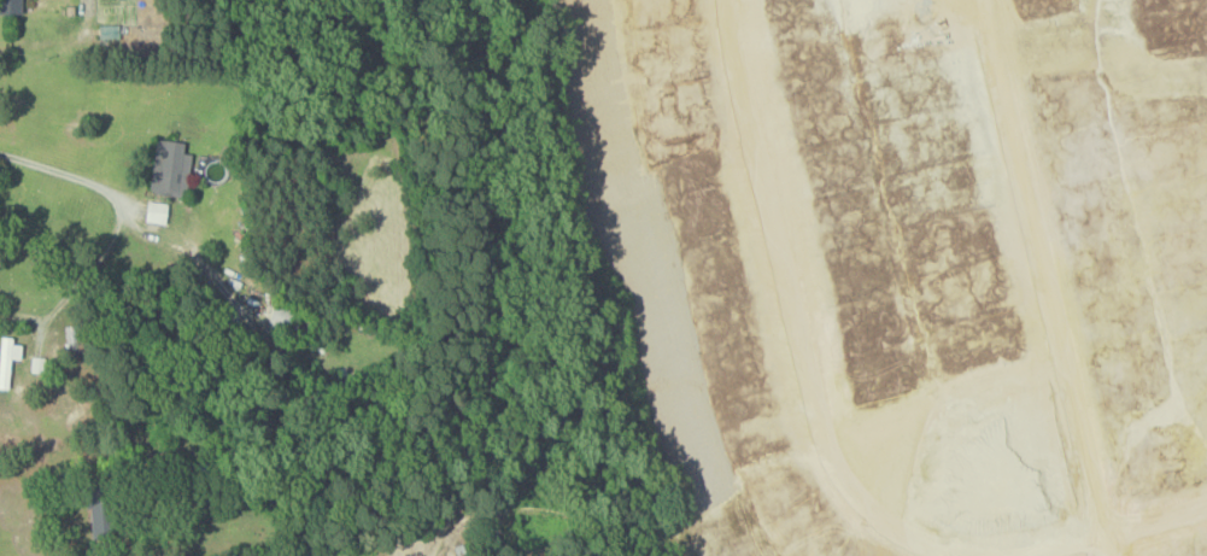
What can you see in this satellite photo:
building: (10, 6)
building: (170, 168)
building: (1201, 207)
road: (118, 228)
road: (181, 252)
road: (1048, 264)
road: (795, 309)
building: (7, 359)
road: (1158, 514)
road: (1111, 542)
road: (1049, 543)
road: (104, 552)

